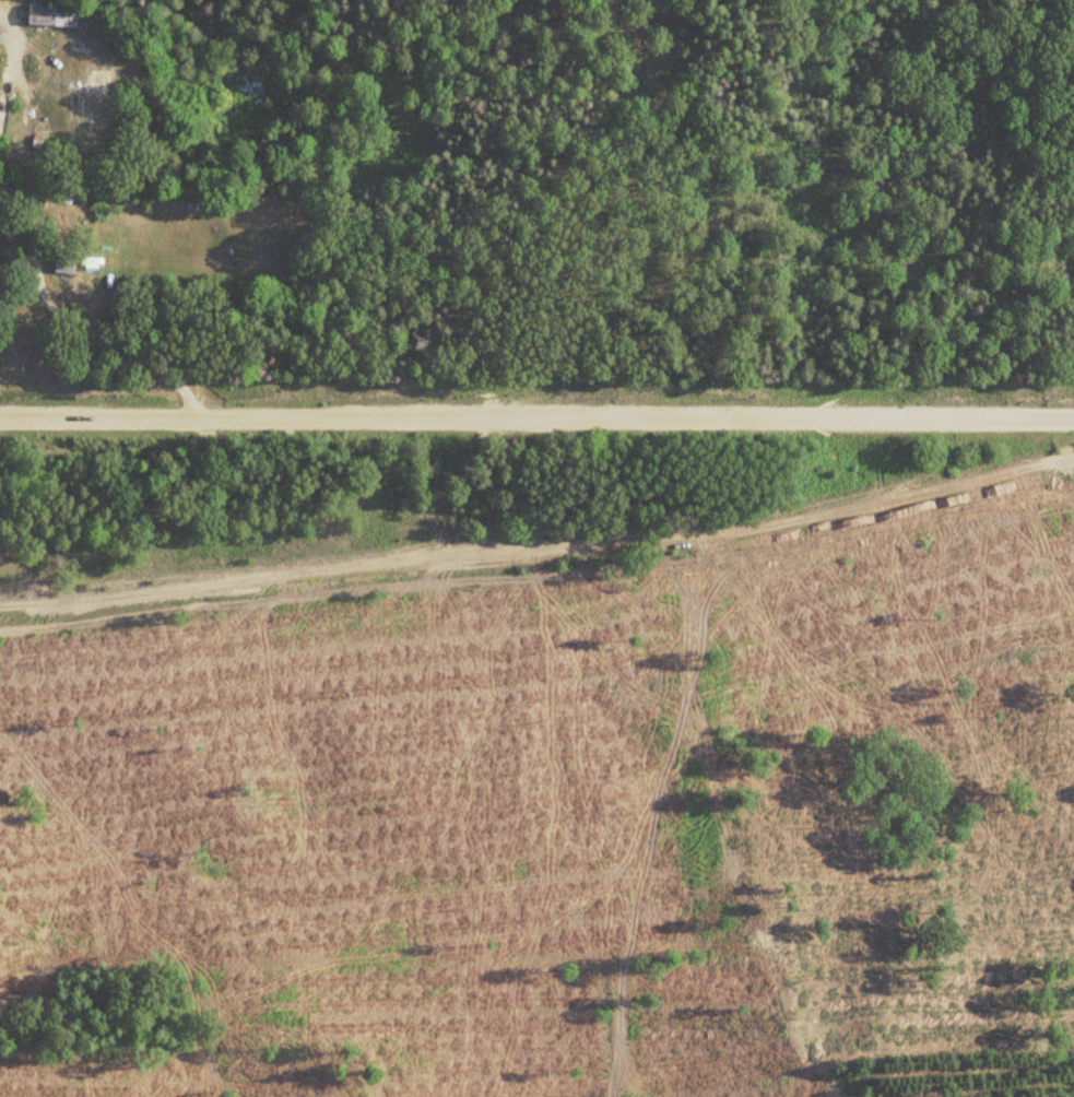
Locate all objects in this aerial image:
building: (44, 15)
road: (536, 415)

